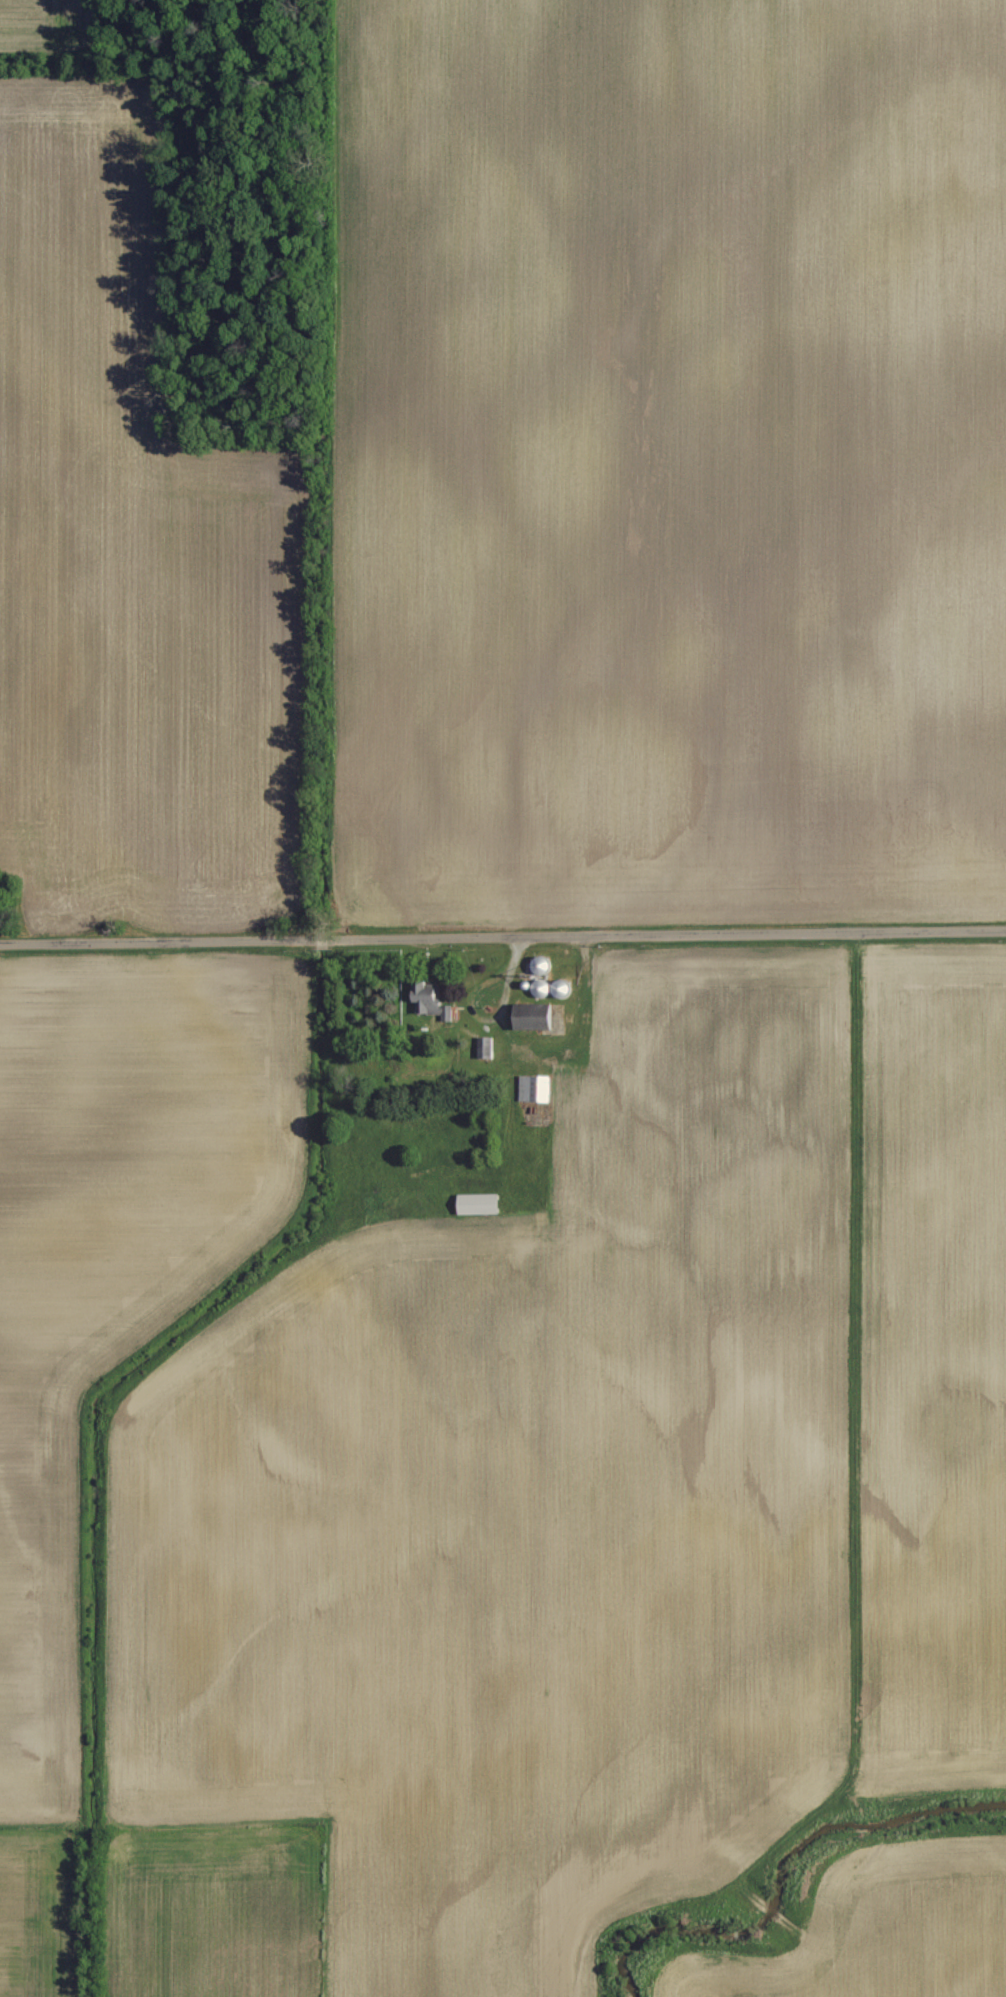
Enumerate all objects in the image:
road: (503, 936)
building: (436, 1006)
building: (538, 1019)
building: (487, 1047)
building: (539, 1088)
building: (483, 1203)

